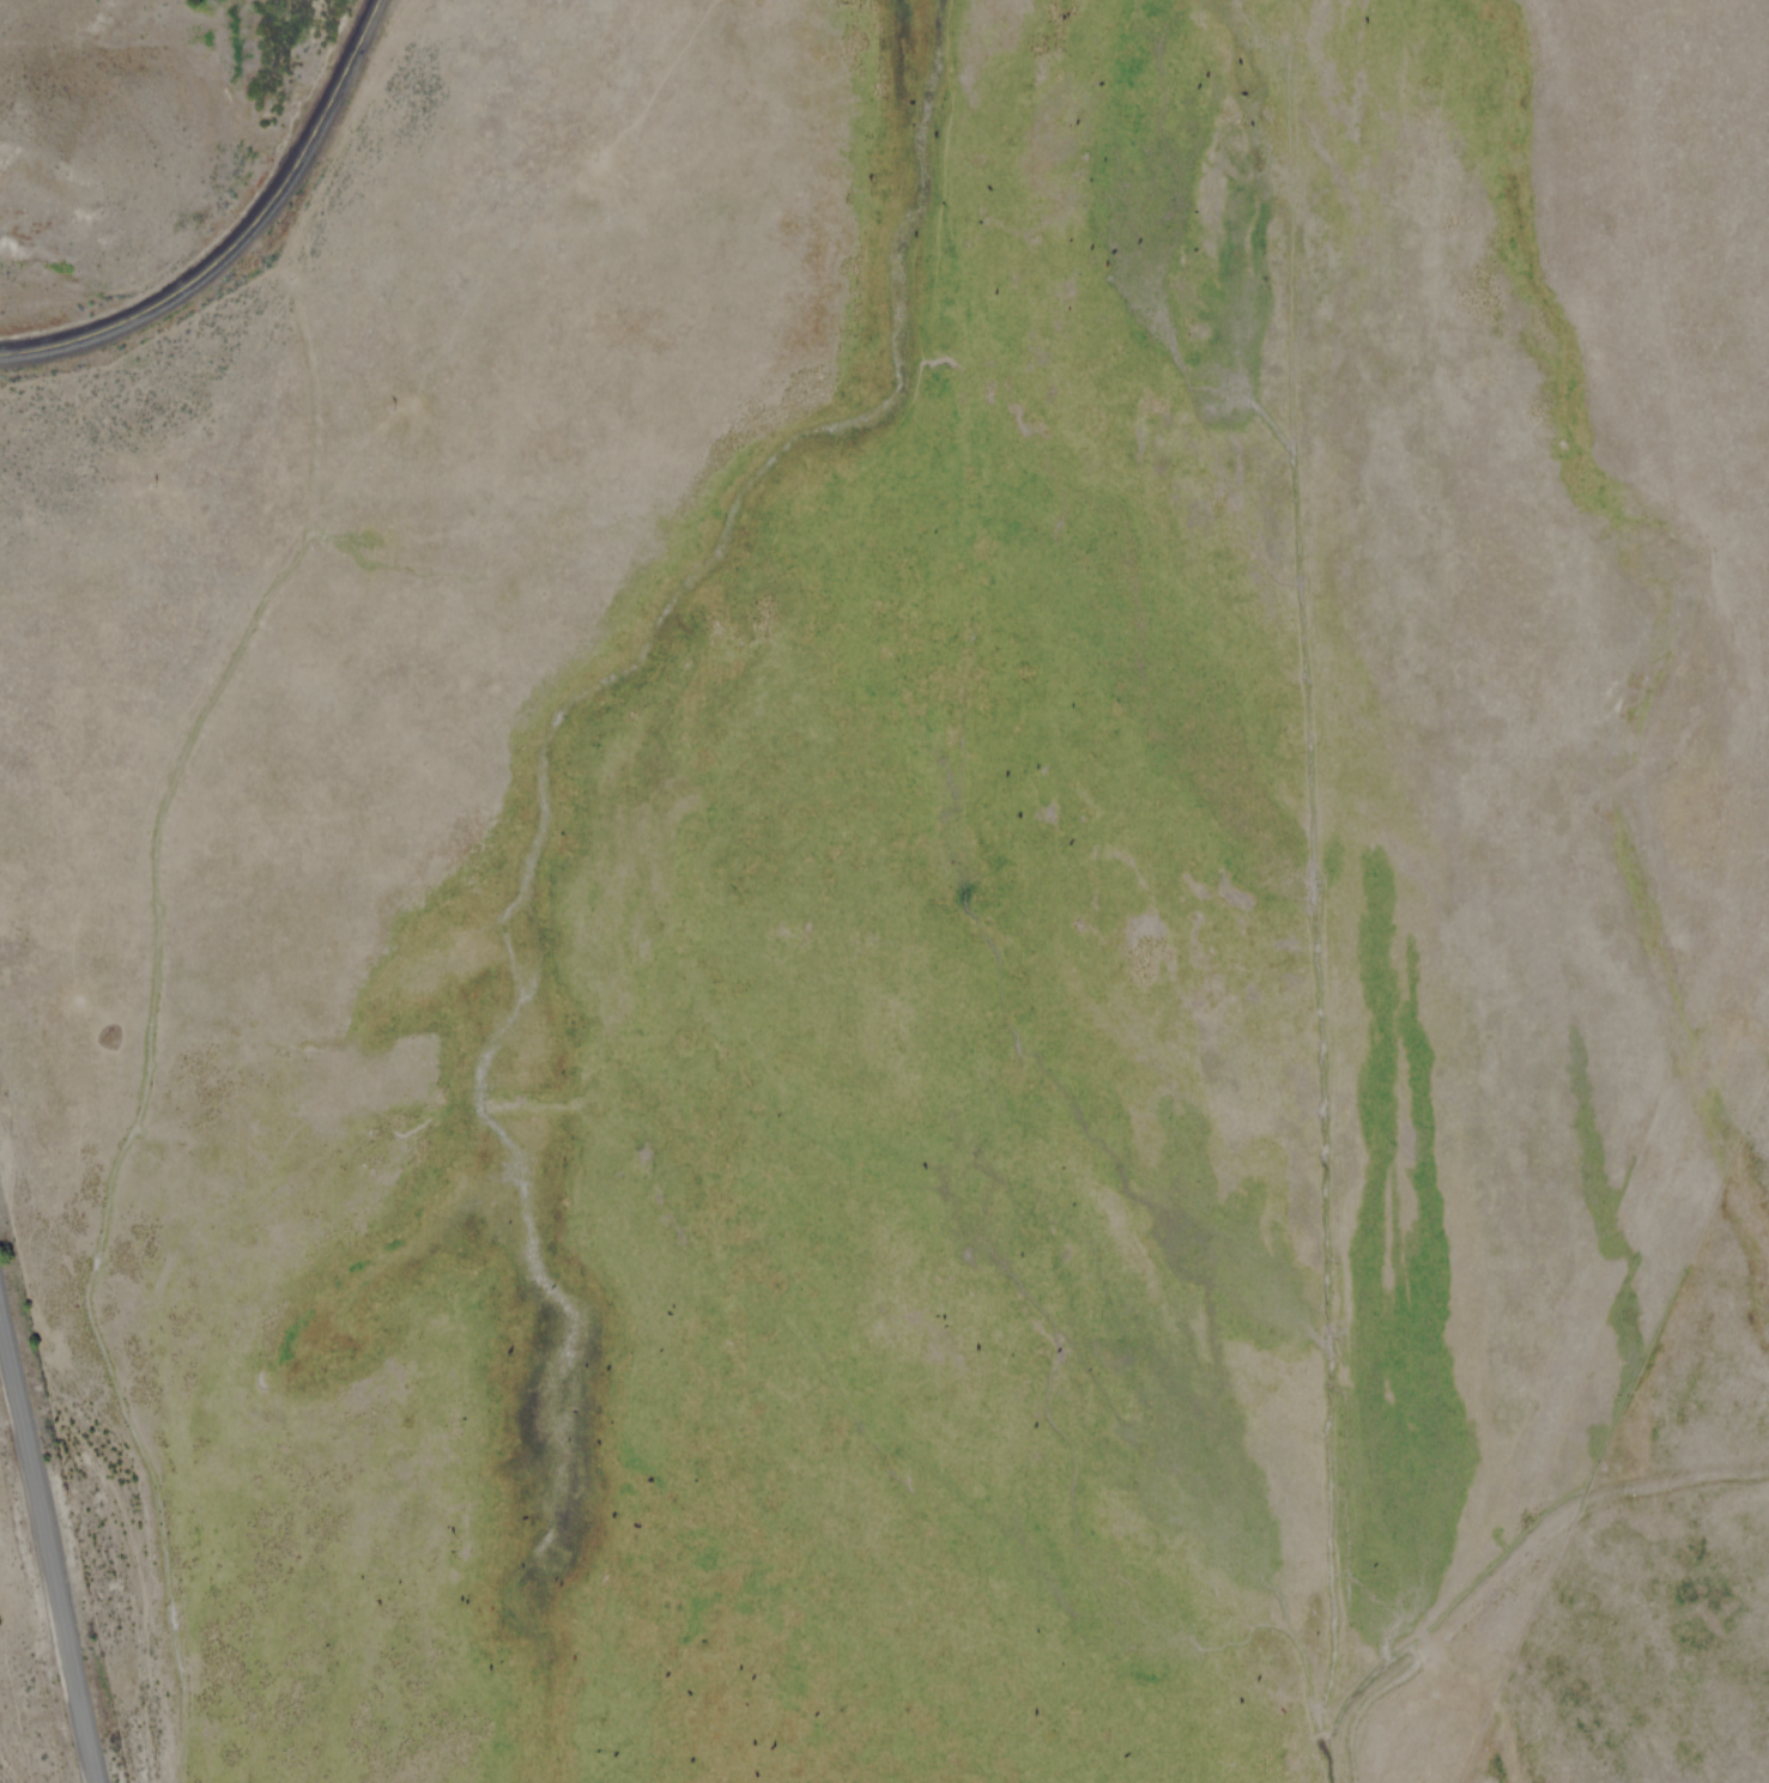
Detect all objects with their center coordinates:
road: (237, 234)
road: (48, 1548)

